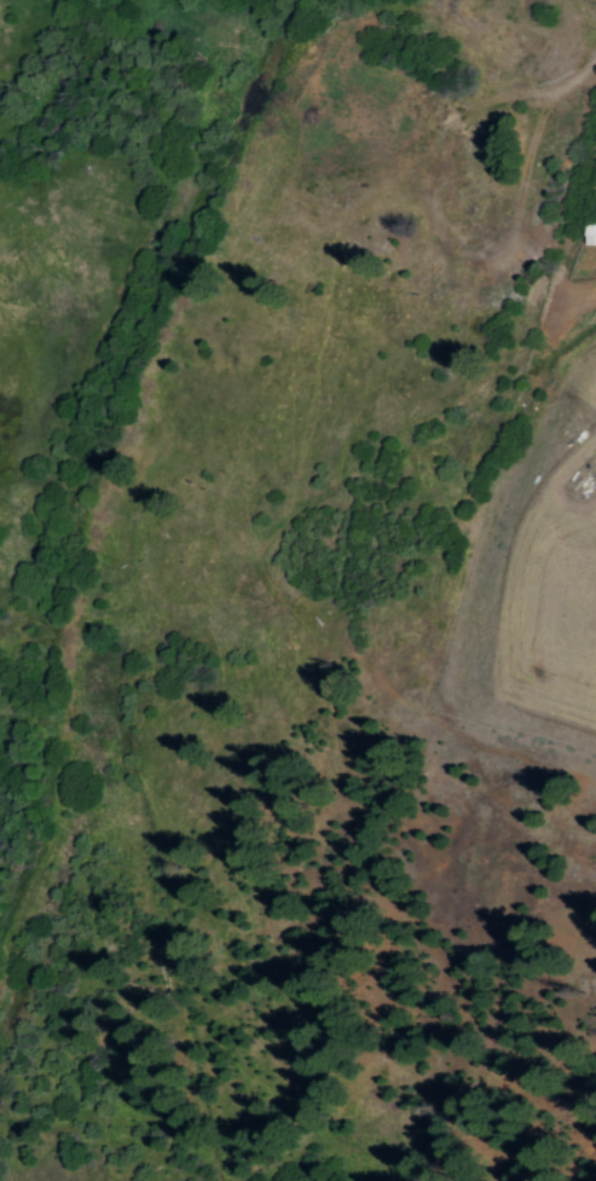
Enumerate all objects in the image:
building: (588, 233)

